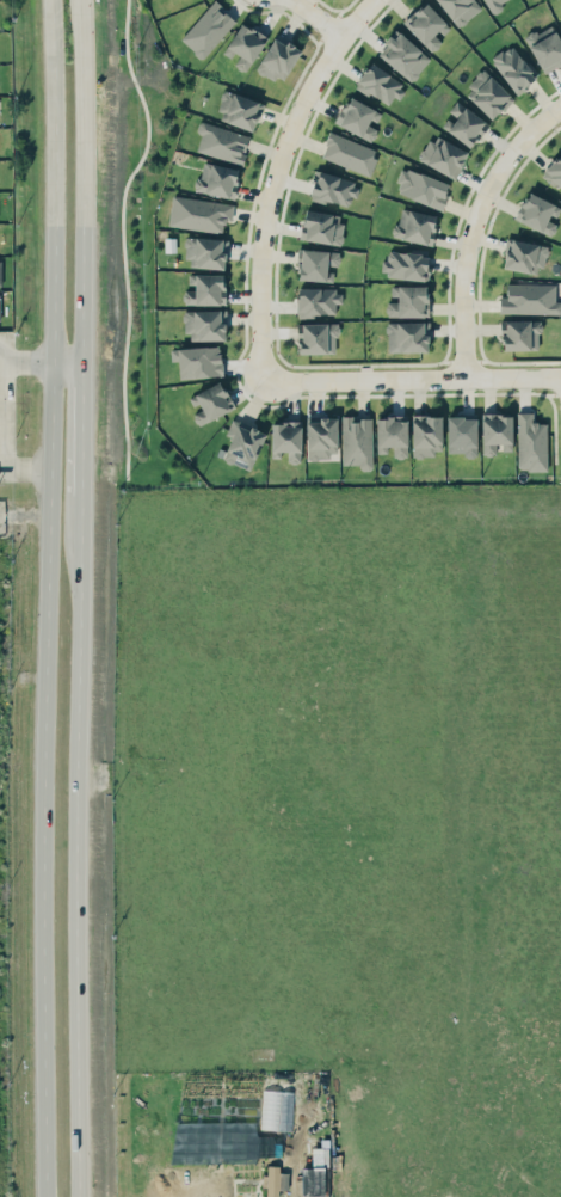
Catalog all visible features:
building: (493, 6)
building: (460, 10)
building: (560, 18)
road: (315, 19)
building: (426, 25)
building: (208, 29)
building: (243, 45)
building: (545, 47)
building: (405, 56)
building: (278, 59)
building: (513, 68)
building: (380, 84)
building: (487, 93)
building: (239, 110)
building: (357, 118)
building: (464, 123)
building: (221, 142)
building: (349, 153)
building: (443, 155)
building: (554, 171)
road: (275, 177)
building: (217, 179)
road: (85, 180)
building: (421, 188)
building: (333, 189)
building: (538, 213)
building: (199, 214)
building: (321, 226)
building: (414, 226)
road: (473, 227)
building: (205, 252)
building: (523, 256)
building: (316, 264)
building: (405, 264)
building: (0, 272)
building: (204, 289)
building: (530, 299)
building: (318, 301)
building: (407, 301)
building: (0, 306)
building: (0, 319)
building: (205, 324)
building: (519, 334)
building: (407, 336)
building: (316, 337)
building: (198, 361)
road: (26, 362)
road: (68, 362)
road: (411, 377)
building: (209, 403)
building: (495, 432)
building: (426, 434)
building: (461, 434)
building: (392, 435)
building: (321, 436)
building: (285, 441)
building: (357, 441)
building: (530, 442)
building: (242, 443)
road: (82, 449)
road: (25, 472)
road: (48, 597)
road: (76, 866)
building: (277, 1110)
building: (316, 1173)
building: (275, 1180)

